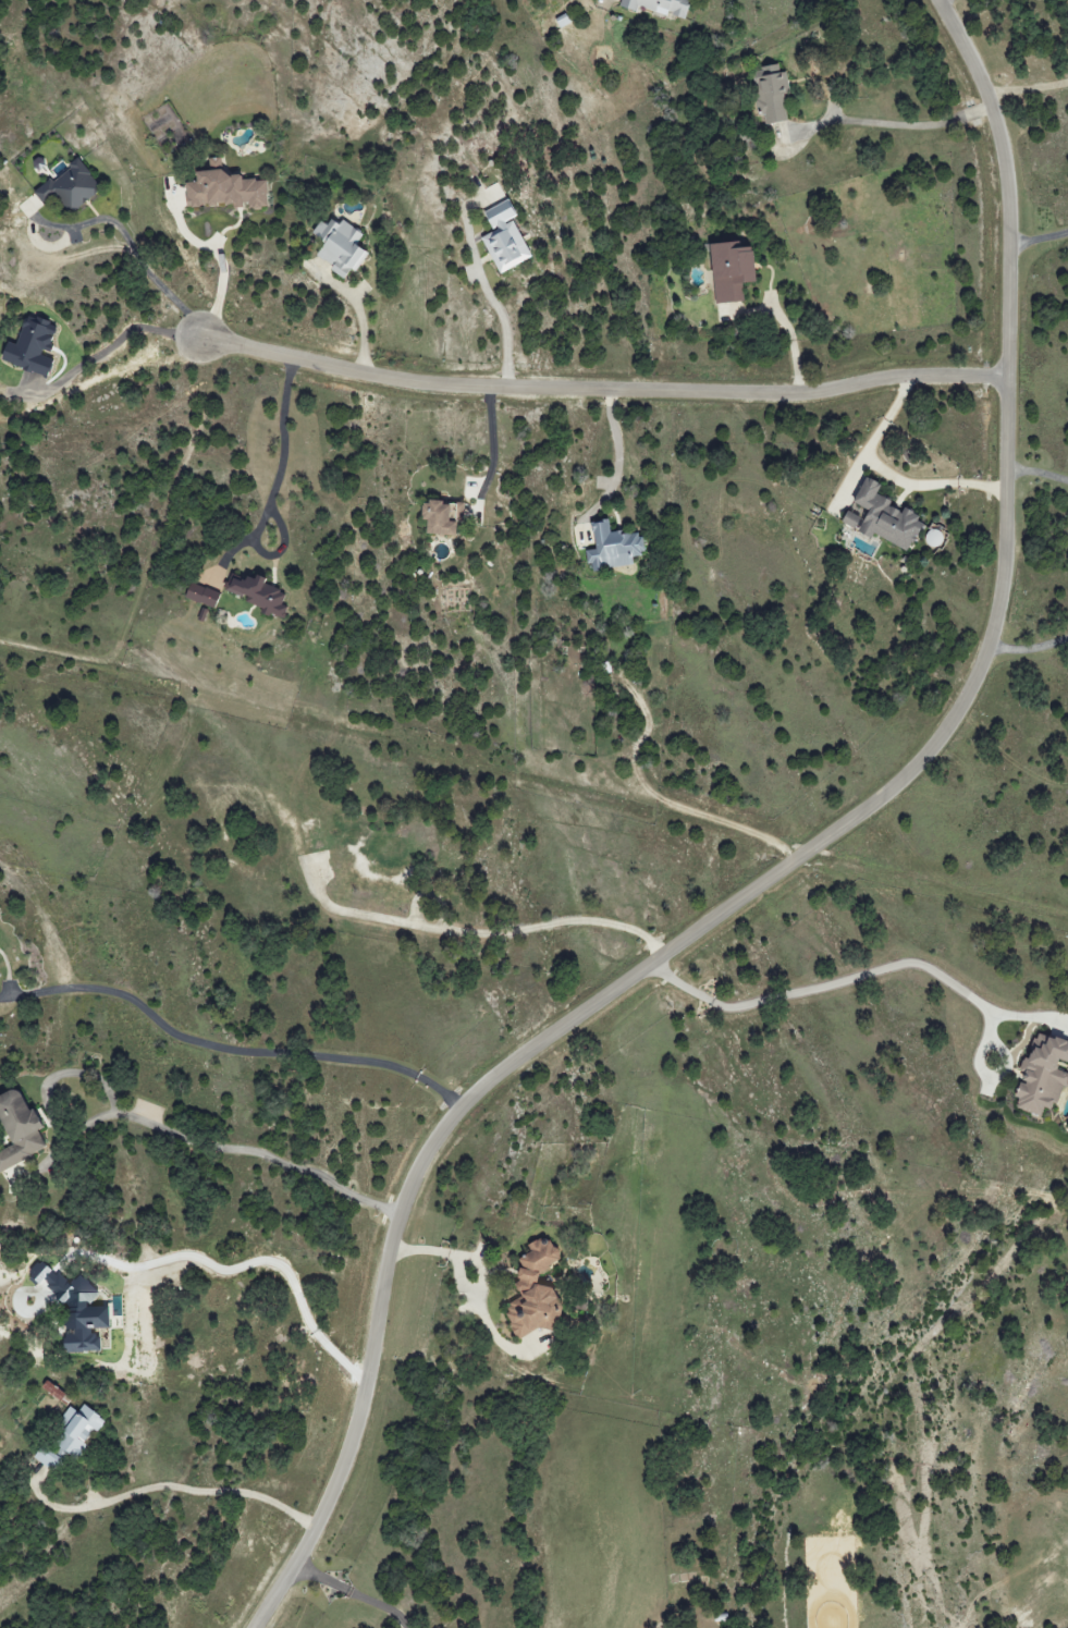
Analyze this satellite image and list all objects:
road: (937, 0)
building: (659, 5)
road: (1024, 86)
building: (771, 94)
road: (900, 126)
building: (70, 187)
building: (224, 188)
building: (504, 237)
road: (1038, 240)
building: (339, 246)
building: (731, 271)
road: (223, 272)
road: (154, 278)
road: (505, 328)
road: (787, 328)
road: (363, 329)
road: (125, 334)
building: (30, 347)
road: (599, 391)
road: (493, 442)
road: (615, 444)
road: (280, 465)
road: (1036, 465)
road: (894, 469)
building: (442, 517)
building: (885, 517)
building: (850, 521)
road: (283, 543)
building: (613, 548)
road: (151, 556)
building: (201, 595)
building: (258, 595)
road: (1028, 642)
road: (668, 803)
road: (784, 870)
road: (486, 935)
road: (861, 972)
road: (235, 1050)
building: (1042, 1075)
building: (19, 1129)
road: (161, 1130)
road: (466, 1288)
building: (533, 1292)
building: (75, 1310)
building: (56, 1393)
building: (77, 1430)
building: (47, 1457)
road: (176, 1488)
road: (357, 1588)

